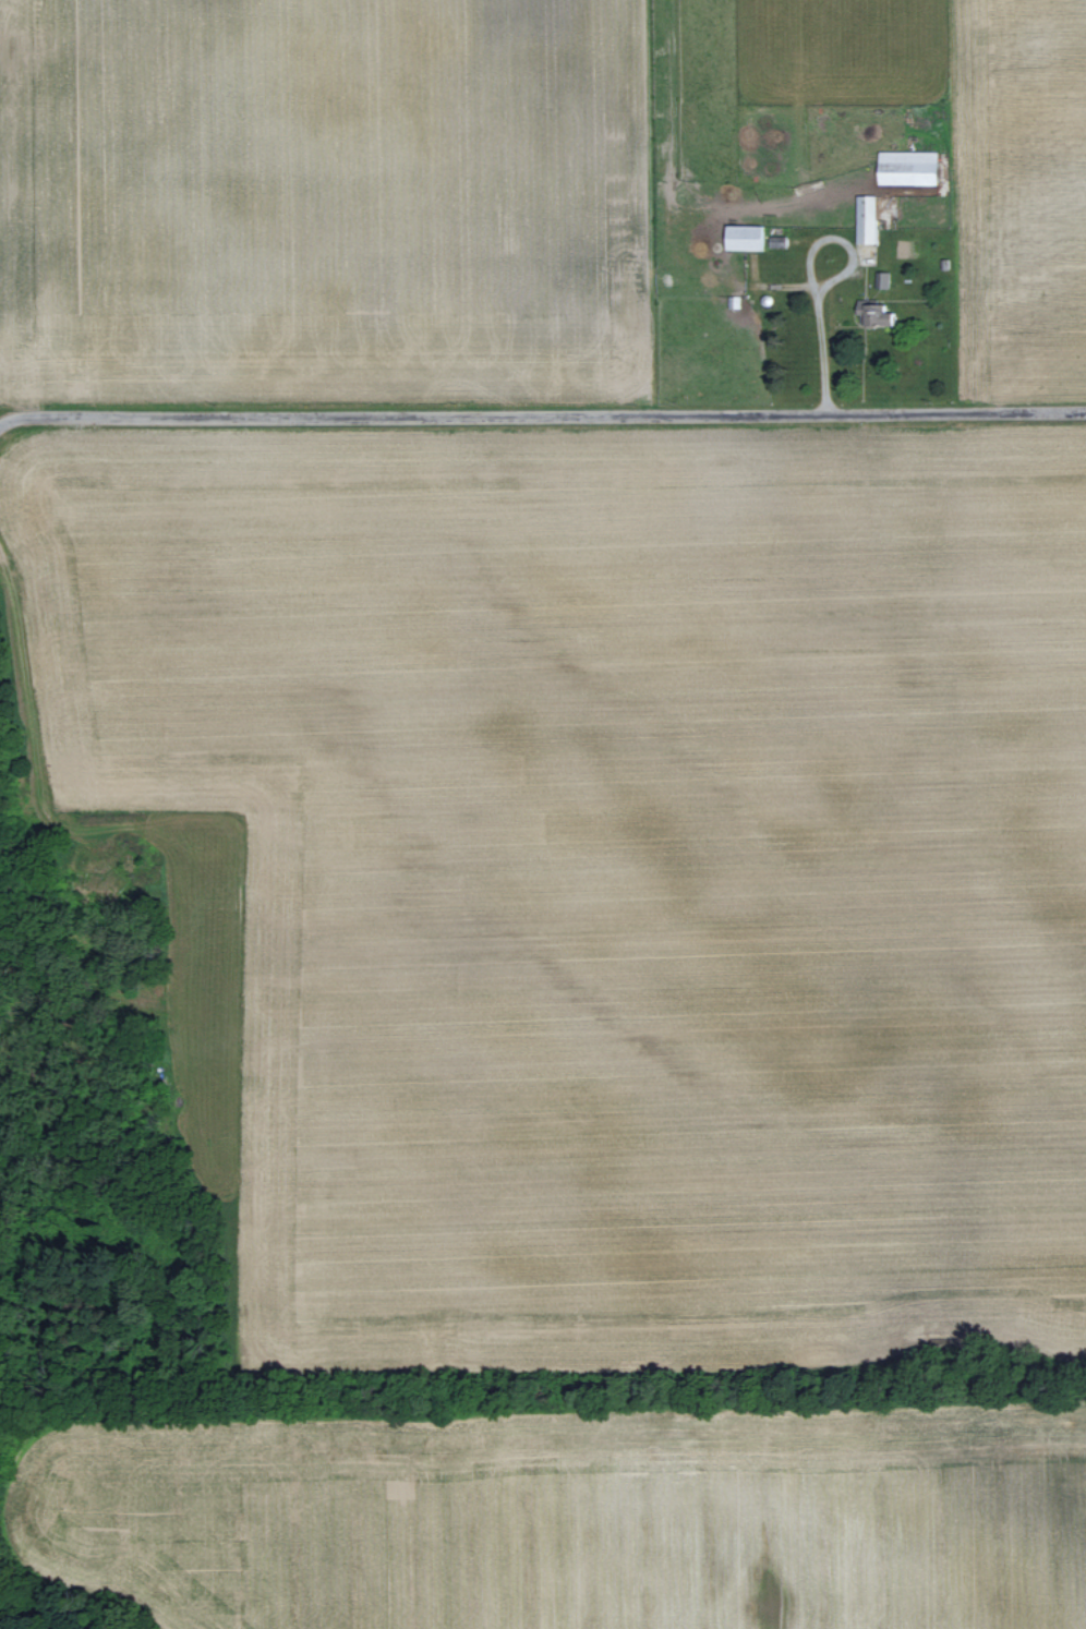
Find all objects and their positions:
building: (912, 167)
building: (868, 218)
building: (748, 238)
road: (811, 277)
building: (878, 314)
road: (526, 419)

